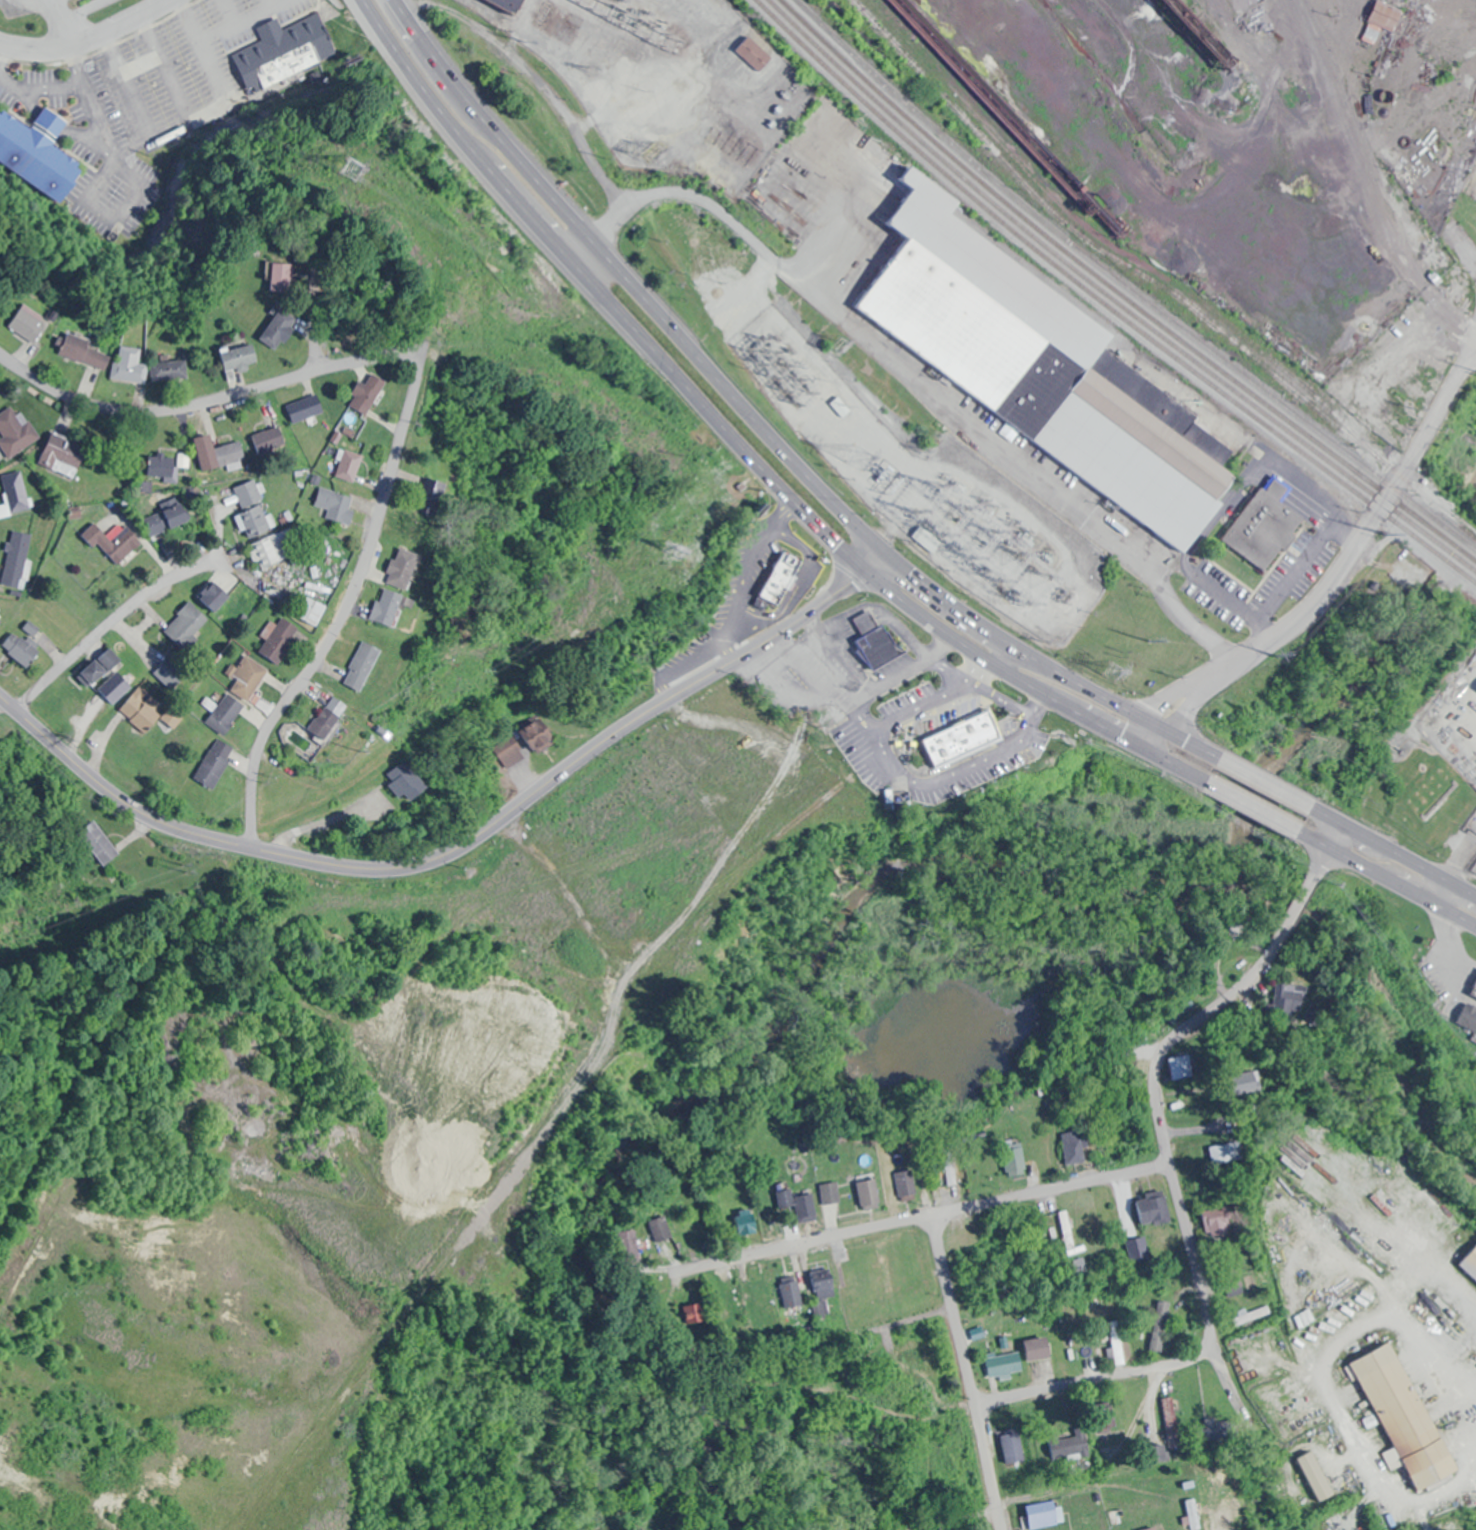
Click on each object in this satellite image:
building: (1400, 0)
road: (365, 5)
building: (510, 5)
building: (1384, 15)
road: (83, 36)
building: (282, 46)
building: (754, 54)
building: (41, 148)
power tower: (371, 167)
railway: (1154, 278)
building: (288, 279)
road: (633, 281)
railway: (1126, 285)
railway: (1118, 291)
railway: (1113, 297)
road: (604, 299)
railway: (1107, 302)
road: (312, 305)
building: (30, 324)
road: (1418, 330)
building: (281, 331)
building: (86, 352)
road: (0, 353)
building: (239, 360)
building: (129, 366)
building: (1045, 368)
building: (168, 371)
railway: (1309, 388)
building: (370, 394)
road: (208, 400)
building: (305, 408)
road: (506, 412)
building: (15, 433)
building: (269, 440)
building: (227, 454)
building: (62, 455)
power tower: (865, 456)
building: (160, 465)
building: (349, 466)
power substation: (934, 490)
building: (434, 491)
building: (14, 492)
building: (335, 507)
building: (167, 519)
building: (1263, 526)
building: (926, 539)
building: (114, 543)
building: (269, 550)
traffic signals: (887, 550)
building: (16, 558)
building: (403, 568)
traffic signals: (862, 570)
building: (781, 579)
road: (1328, 585)
building: (214, 596)
road: (346, 605)
building: (390, 608)
building: (310, 611)
road: (111, 620)
building: (0, 624)
building: (186, 626)
building: (278, 640)
building: (879, 647)
building: (364, 668)
building: (98, 670)
building: (170, 674)
power tower: (1116, 674)
building: (249, 680)
building: (141, 711)
building: (228, 714)
building: (174, 717)
building: (330, 718)
building: (954, 725)
road: (1174, 732)
building: (538, 734)
road: (1161, 761)
building: (216, 764)
building: (408, 782)
traffic signals: (1341, 821)
building: (99, 840)
road: (462, 843)
traffic signals: (1326, 849)
building: (1472, 986)
building: (1466, 1016)
building: (1182, 1066)
road: (1154, 1086)
building: (1074, 1147)
building: (1228, 1152)
building: (1015, 1159)
building: (906, 1185)
building: (830, 1193)
building: (870, 1193)
building: (799, 1205)
building: (1154, 1208)
road: (920, 1217)
building: (1216, 1218)
building: (683, 1220)
building: (746, 1221)
building: (626, 1242)
building: (1137, 1251)
building: (1470, 1262)
building: (824, 1281)
building: (790, 1292)
building: (848, 1302)
building: (726, 1310)
building: (692, 1313)
building: (1250, 1315)
building: (1159, 1320)
building: (1118, 1342)
building: (1040, 1348)
building: (1006, 1363)
road: (967, 1372)
road: (983, 1402)
building: (1403, 1416)
building: (1171, 1422)
building: (1069, 1443)
building: (1013, 1446)
building: (1316, 1476)
building: (1045, 1514)

